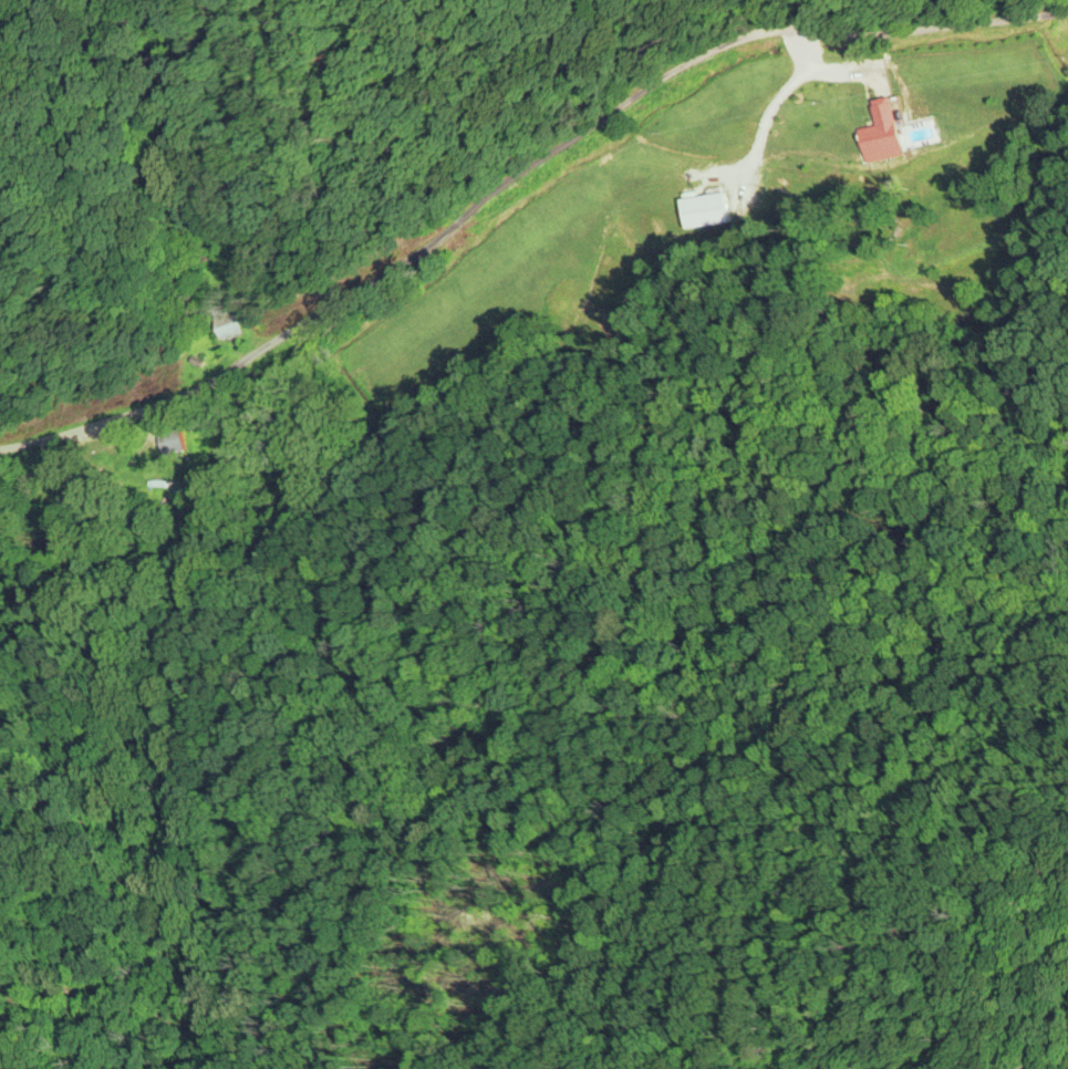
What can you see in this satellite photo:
building: (884, 132)
road: (515, 175)
building: (707, 209)
building: (230, 330)

